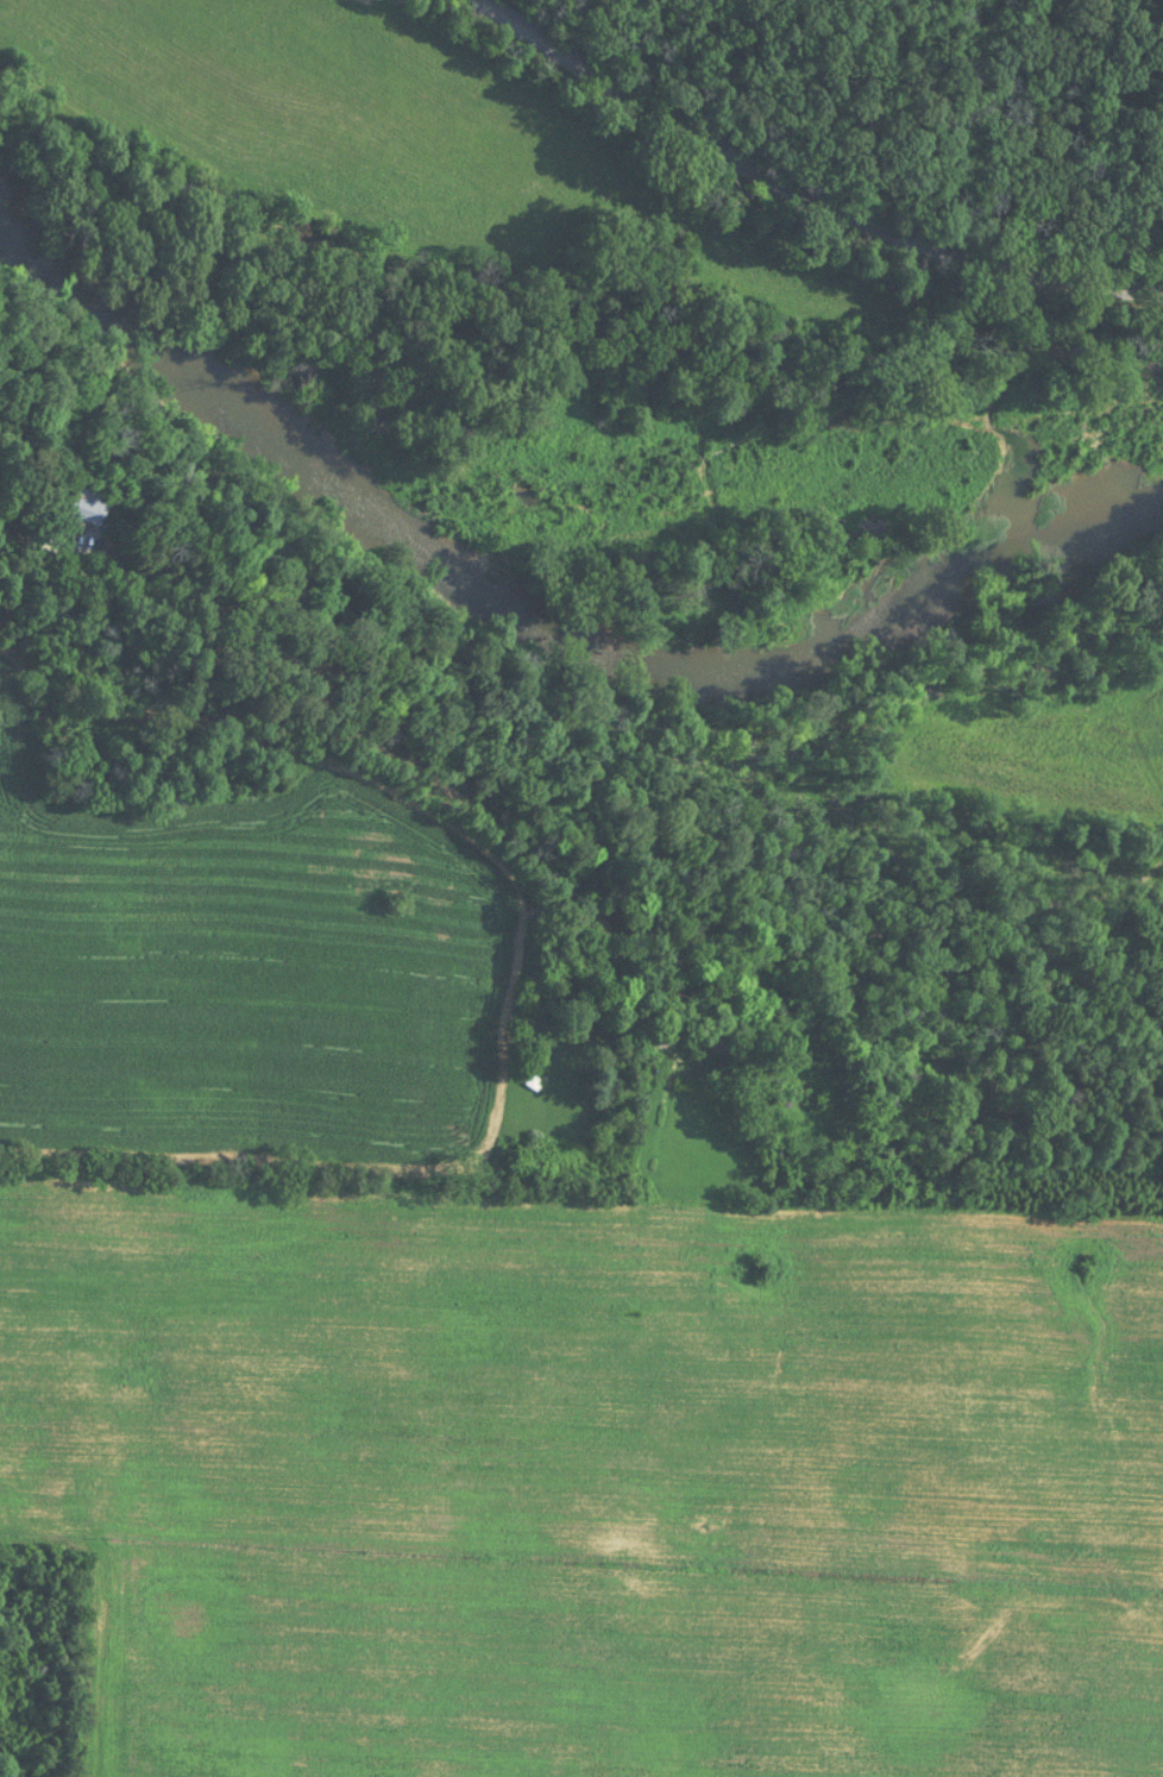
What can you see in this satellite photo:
road: (811, 187)
building: (83, 506)
river: (543, 621)
road: (325, 682)

